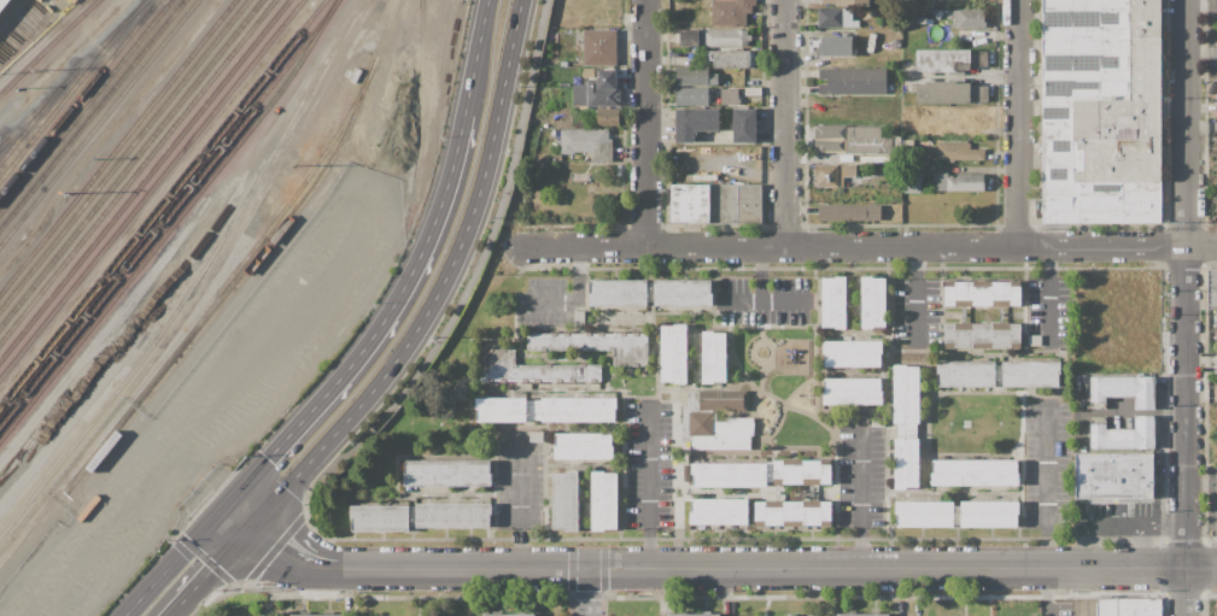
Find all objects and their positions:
building: (847, 2)
road: (1201, 2)
building: (2, 4)
building: (730, 12)
building: (868, 16)
building: (967, 17)
building: (838, 18)
railway: (385, 27)
building: (690, 37)
building: (725, 37)
railway: (45, 43)
building: (835, 46)
building: (599, 47)
road: (1201, 53)
road: (475, 57)
building: (733, 59)
building: (942, 60)
building: (563, 64)
railway: (74, 68)
building: (607, 74)
building: (694, 76)
building: (852, 81)
building: (751, 90)
railway: (65, 92)
building: (942, 92)
railway: (76, 94)
building: (692, 95)
building: (599, 96)
building: (729, 96)
railway: (82, 102)
railway: (41, 106)
building: (1100, 110)
railway: (88, 111)
railway: (419, 112)
building: (605, 116)
railway: (95, 119)
railway: (18, 122)
road: (645, 123)
building: (695, 123)
road: (786, 123)
road: (1018, 123)
building: (743, 125)
building: (846, 139)
building: (912, 140)
building: (587, 142)
railway: (116, 145)
railway: (121, 152)
building: (958, 152)
railway: (128, 160)
railway: (135, 169)
building: (835, 175)
building: (578, 176)
railway: (142, 177)
building: (702, 177)
building: (893, 177)
building: (912, 178)
building: (958, 182)
railway: (150, 187)
railway: (159, 200)
building: (715, 204)
railway: (166, 210)
building: (848, 211)
railway: (171, 221)
road: (1102, 246)
road: (1201, 246)
road: (590, 247)
road: (832, 247)
railway: (194, 276)
railway: (234, 282)
road: (438, 289)
building: (1212, 289)
building: (681, 292)
building: (618, 293)
building: (982, 293)
road: (571, 295)
road: (913, 297)
road: (1049, 297)
road: (757, 299)
road: (737, 301)
building: (833, 301)
building: (873, 301)
building: (534, 303)
road: (1187, 307)
railway: (197, 313)
building: (579, 317)
building: (900, 318)
building: (533, 321)
road: (379, 325)
building: (900, 325)
building: (900, 334)
building: (982, 335)
building: (1036, 340)
building: (900, 341)
road: (438, 345)
building: (593, 345)
building: (673, 353)
building: (853, 353)
building: (713, 357)
building: (531, 370)
building: (997, 374)
building: (852, 391)
building: (1123, 391)
building: (545, 410)
building: (675, 411)
building: (708, 415)
building: (877, 423)
building: (905, 427)
building: (846, 430)
building: (1124, 434)
building: (537, 436)
building: (846, 439)
building: (583, 446)
building: (846, 448)
building: (846, 458)
building: (446, 473)
building: (973, 473)
building: (762, 474)
building: (1114, 475)
road: (651, 487)
building: (1061, 494)
road: (517, 498)
building: (603, 500)
road: (861, 500)
traffic signals: (229, 501)
building: (566, 501)
road: (1048, 512)
road: (240, 514)
building: (452, 514)
building: (956, 514)
building: (759, 515)
building: (380, 517)
traffic signals: (252, 527)
road: (294, 556)
road: (175, 558)
road: (1203, 568)
road: (766, 569)
road: (210, 570)
road: (590, 592)
building: (1106, 608)
building: (1139, 608)
building: (316, 615)
building: (508, 615)
building: (694, 615)
building: (789, 615)
building: (860, 615)

